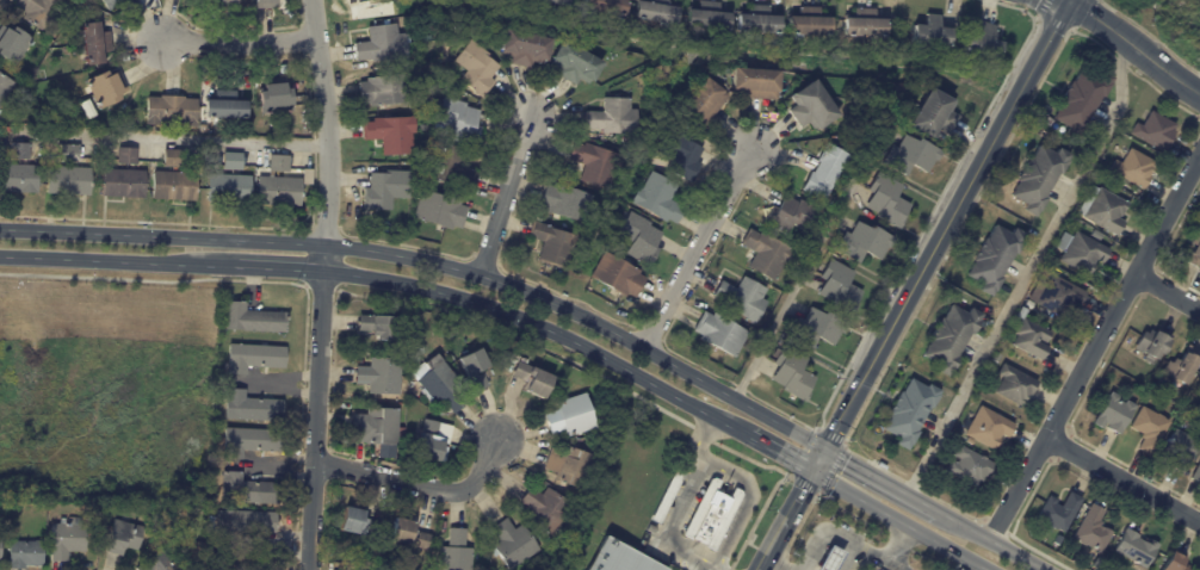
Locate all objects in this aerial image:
building: (126, 0)
building: (511, 1)
building: (558, 1)
building: (109, 2)
building: (223, 2)
building: (264, 4)
building: (606, 5)
building: (655, 10)
building: (37, 11)
building: (706, 14)
building: (756, 19)
building: (808, 20)
building: (864, 23)
building: (929, 31)
building: (54, 36)
building: (982, 41)
road: (245, 42)
building: (12, 43)
building: (93, 43)
building: (381, 44)
road: (1136, 45)
building: (524, 47)
building: (575, 62)
building: (477, 67)
building: (540, 74)
building: (755, 81)
building: (4, 86)
building: (105, 86)
building: (383, 89)
building: (272, 97)
building: (1078, 99)
building: (701, 103)
building: (222, 105)
building: (812, 105)
building: (169, 110)
building: (934, 112)
building: (60, 113)
building: (613, 117)
building: (459, 120)
building: (1152, 131)
building: (389, 132)
road: (329, 135)
road: (188, 137)
building: (18, 149)
building: (68, 151)
building: (682, 153)
building: (125, 155)
building: (911, 155)
building: (171, 157)
building: (230, 160)
building: (277, 162)
building: (594, 163)
building: (147, 165)
building: (447, 166)
building: (1131, 167)
building: (825, 172)
building: (305, 175)
building: (1037, 176)
building: (17, 178)
building: (68, 180)
building: (120, 182)
building: (173, 185)
building: (227, 187)
building: (384, 188)
building: (277, 190)
building: (658, 198)
road: (507, 199)
building: (886, 199)
building: (563, 200)
building: (1101, 209)
building: (438, 210)
building: (791, 215)
building: (639, 238)
building: (552, 242)
building: (864, 242)
building: (1193, 244)
building: (1080, 250)
building: (767, 253)
road: (697, 254)
building: (994, 256)
road: (118, 261)
road: (433, 261)
road: (806, 264)
road: (282, 268)
road: (1031, 271)
building: (617, 275)
road: (913, 285)
building: (840, 287)
building: (1053, 293)
road: (1167, 293)
building: (742, 297)
building: (252, 318)
building: (377, 326)
road: (545, 328)
building: (817, 328)
building: (720, 333)
building: (950, 337)
building: (1029, 337)
building: (1151, 341)
building: (515, 346)
road: (1094, 348)
building: (253, 358)
building: (451, 360)
building: (1181, 365)
building: (474, 368)
building: (792, 373)
building: (378, 376)
building: (532, 379)
building: (1012, 384)
building: (441, 385)
building: (412, 402)
building: (250, 408)
building: (908, 411)
building: (1112, 413)
building: (569, 415)
road: (318, 420)
building: (376, 426)
building: (985, 427)
building: (1146, 427)
road: (705, 435)
building: (433, 440)
building: (248, 441)
building: (1181, 448)
traffic signals: (825, 450)
road: (780, 454)
building: (569, 465)
building: (966, 465)
traffic signals: (814, 472)
road: (870, 473)
building: (1196, 473)
road: (1122, 481)
road: (417, 485)
building: (249, 490)
building: (668, 495)
road: (681, 497)
road: (748, 498)
building: (37, 506)
road: (927, 506)
building: (544, 508)
building: (202, 512)
building: (1056, 513)
road: (901, 521)
building: (243, 522)
building: (355, 523)
building: (722, 523)
building: (651, 529)
building: (1090, 529)
building: (408, 534)
building: (122, 537)
road: (834, 537)
building: (63, 540)
road: (990, 540)
building: (513, 544)
road: (892, 549)
building: (1133, 549)
building: (456, 552)
building: (24, 553)
road: (692, 554)
building: (617, 557)
building: (828, 559)
building: (239, 560)
building: (155, 562)
building: (1175, 562)
road: (769, 565)
road: (719, 568)

